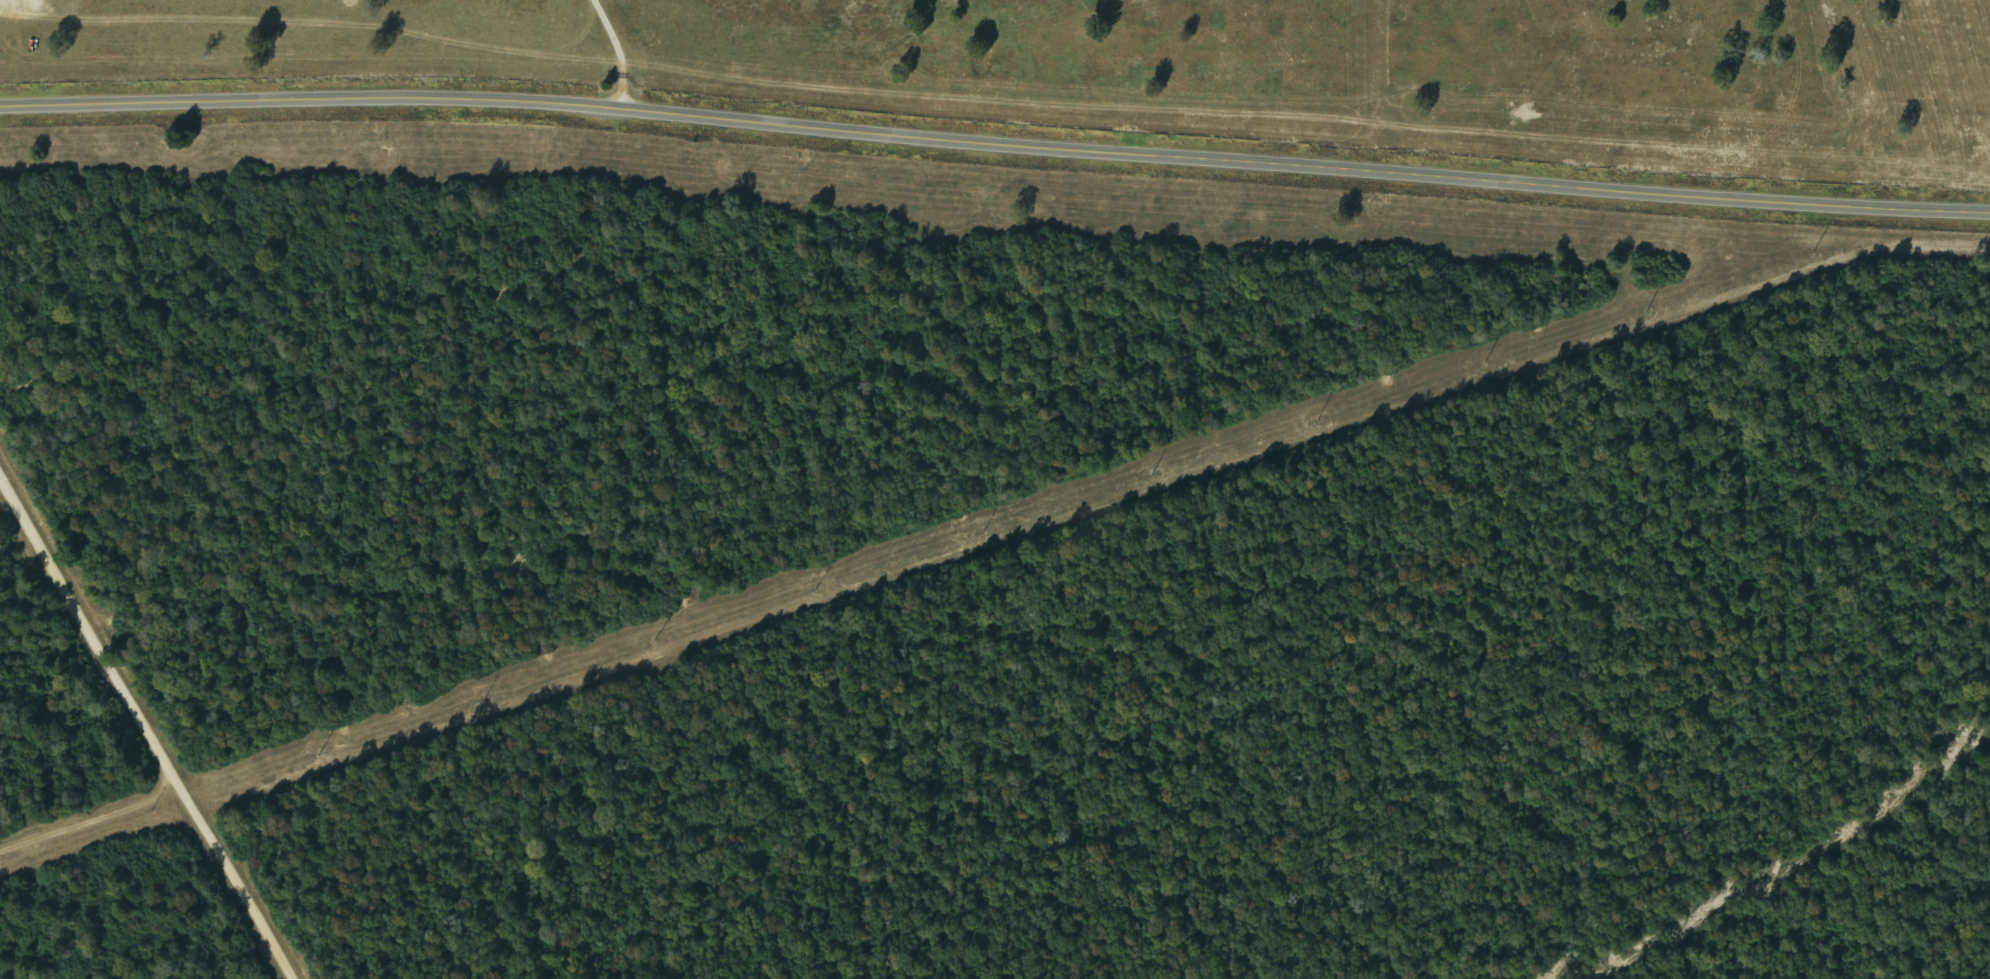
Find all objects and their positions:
road: (995, 143)
road: (147, 728)

